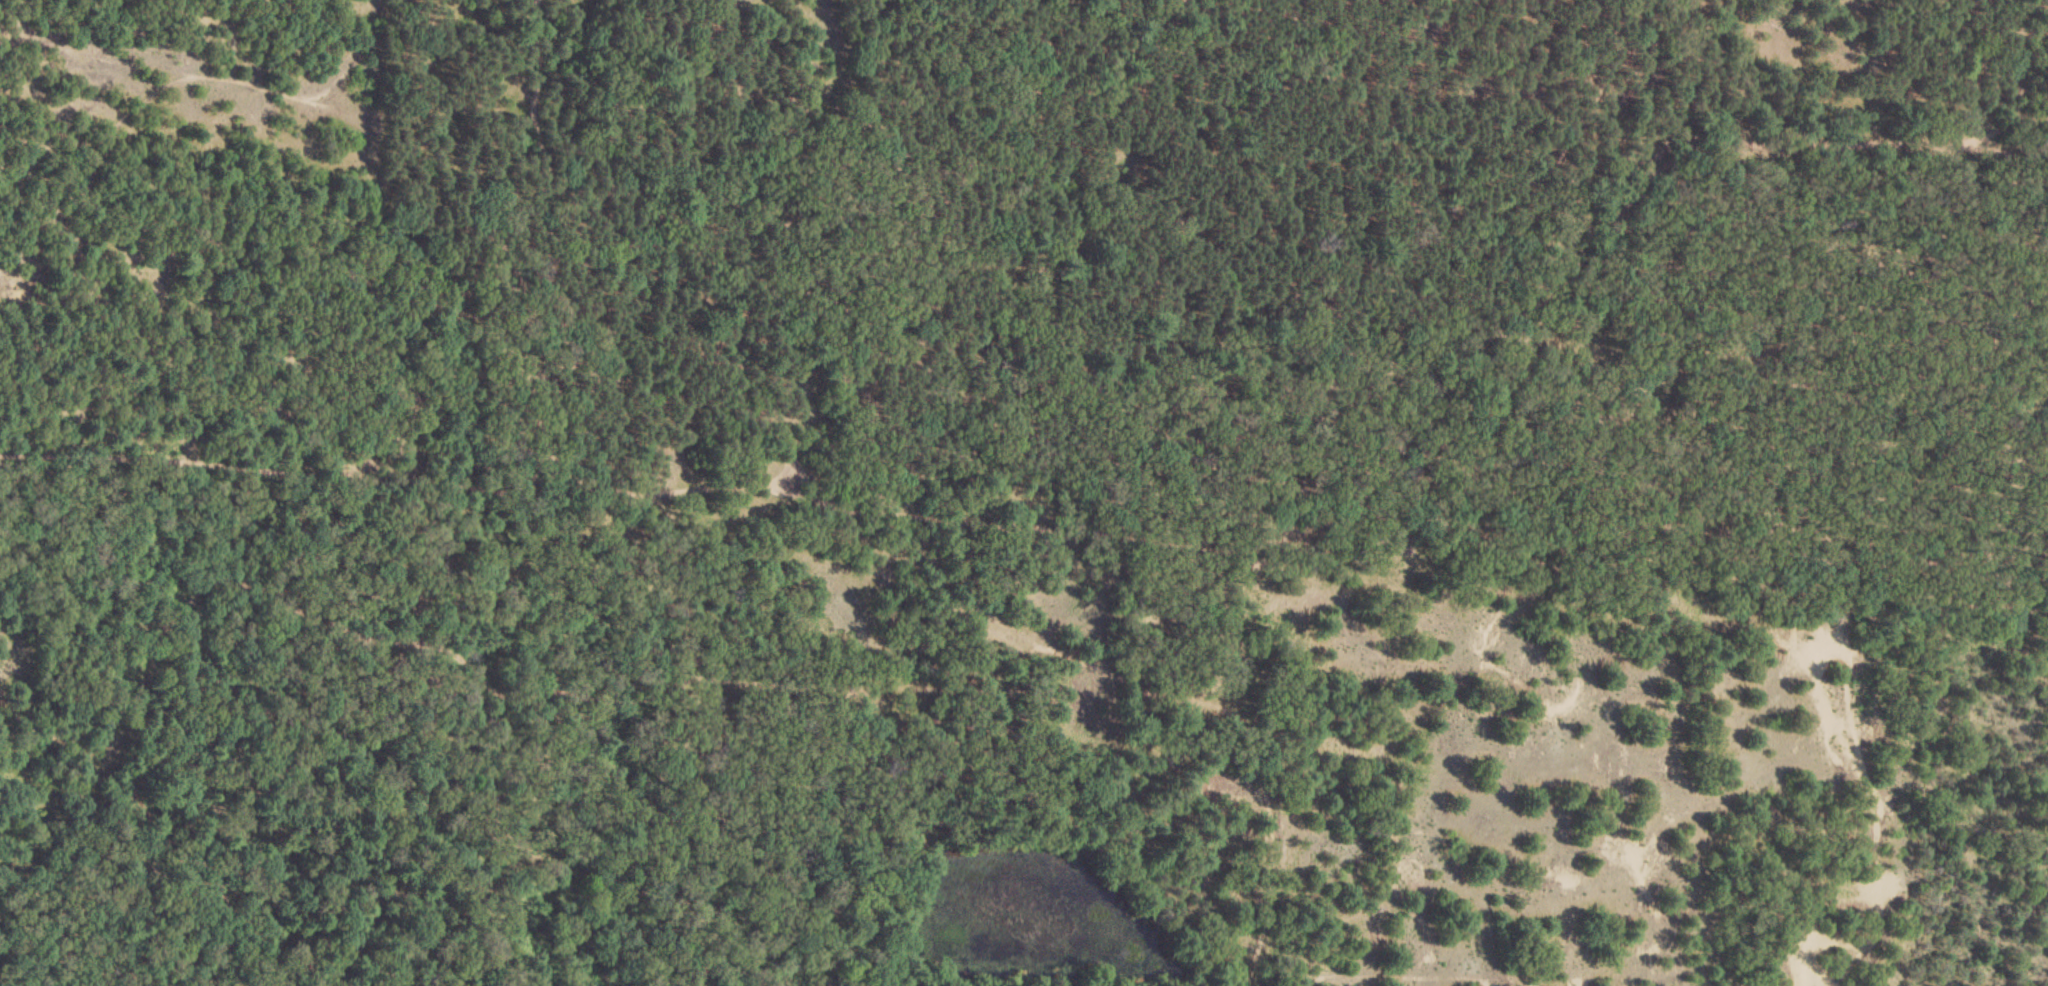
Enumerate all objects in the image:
road: (1024, 503)

